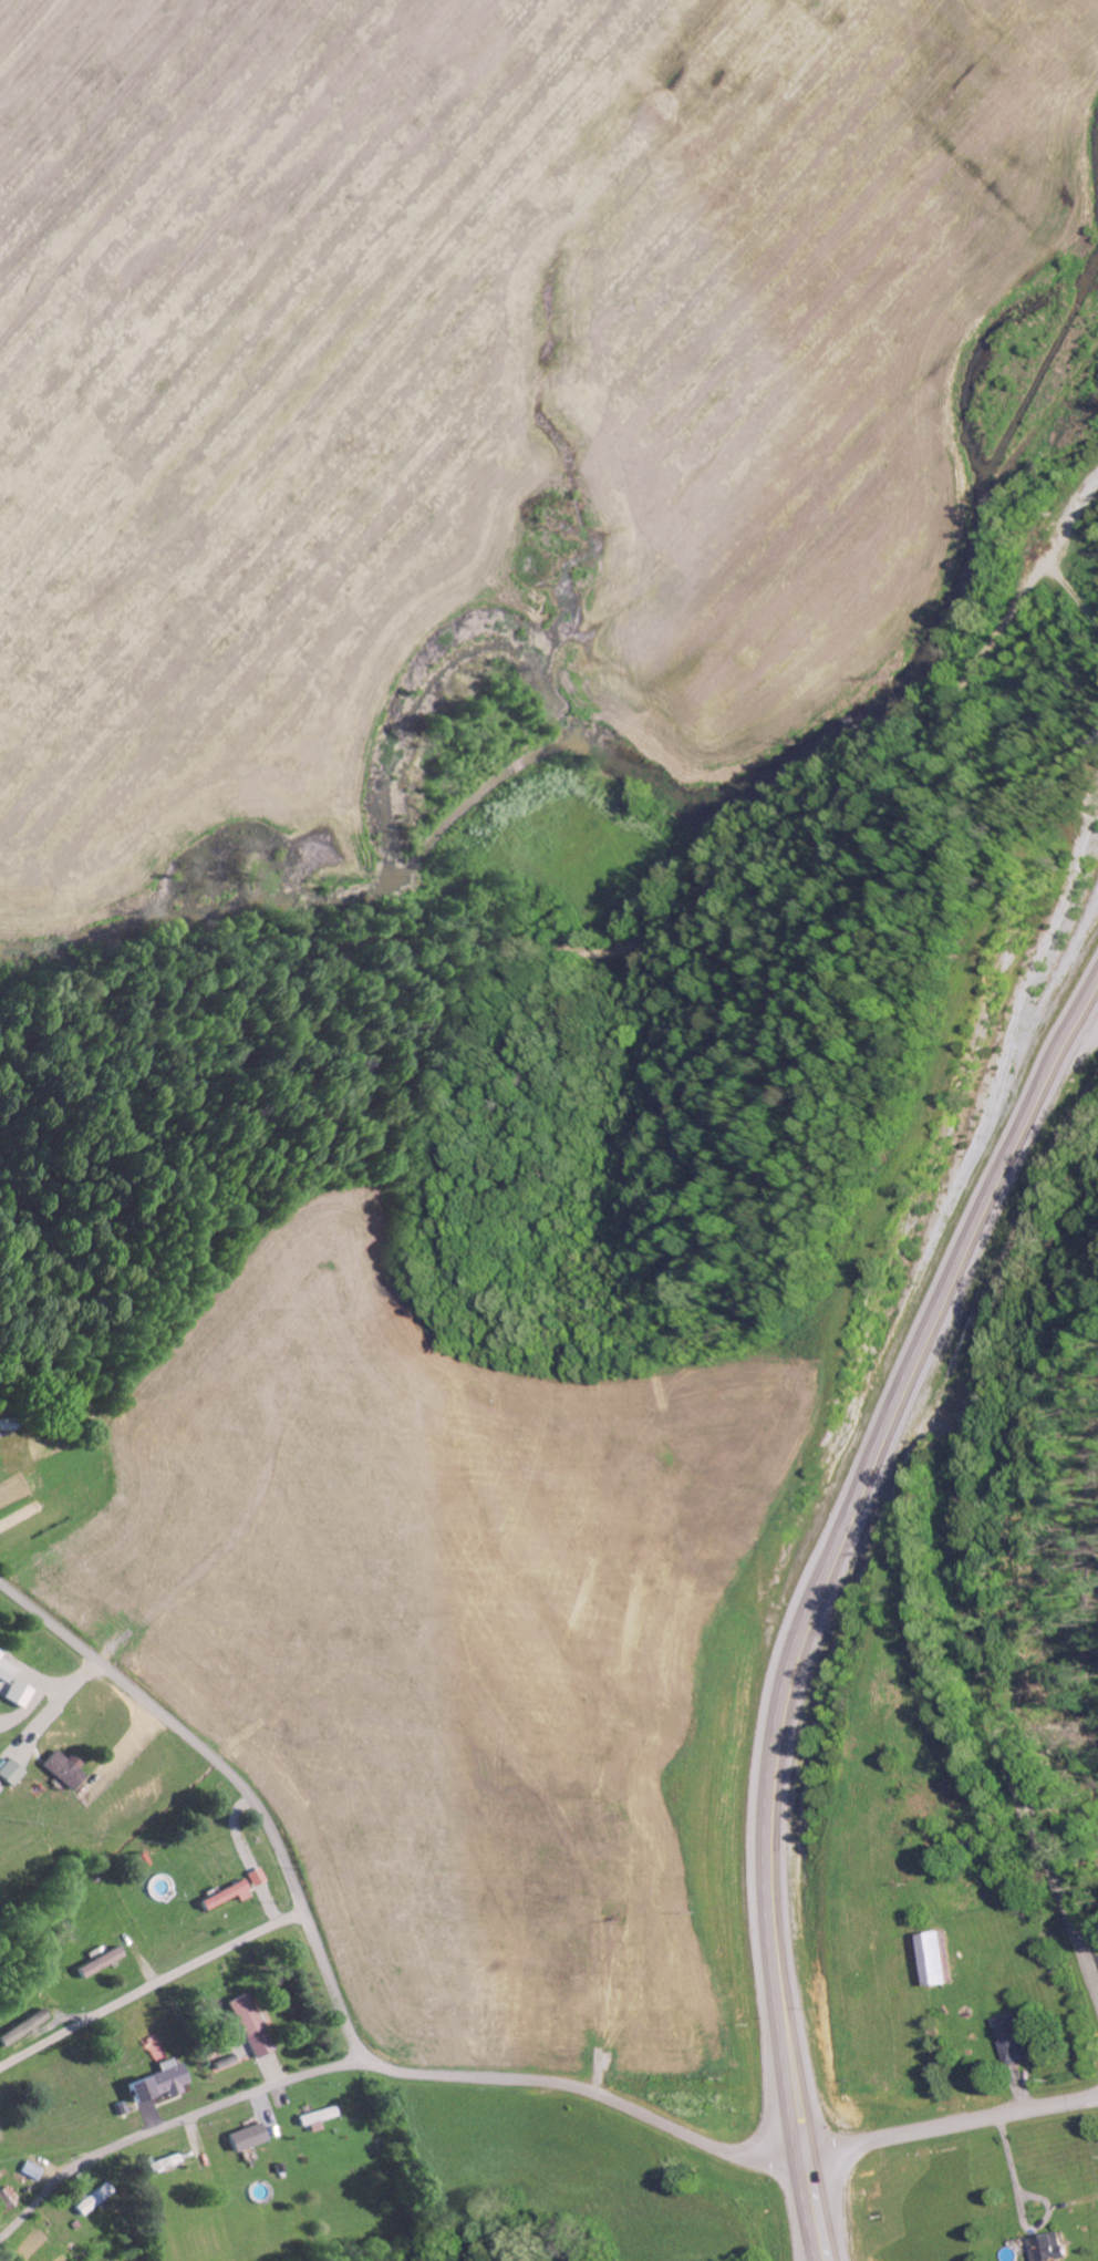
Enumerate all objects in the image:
road: (638, 936)
road: (933, 1335)
road: (810, 1581)
building: (0, 1654)
building: (6, 1675)
building: (17, 1694)
building: (62, 1769)
building: (9, 1772)
building: (141, 1860)
road: (1050, 1868)
building: (255, 1877)
building: (226, 1895)
building: (934, 1959)
building: (100, 1962)
road: (1092, 1964)
road: (149, 1988)
building: (248, 2025)
building: (22, 2027)
building: (1012, 2038)
building: (237, 2045)
road: (432, 2074)
building: (156, 2082)
building: (314, 2118)
road: (174, 2124)
building: (245, 2137)
building: (158, 2165)
building: (27, 2170)
building: (91, 2199)
building: (1046, 2248)
building: (7, 2260)

